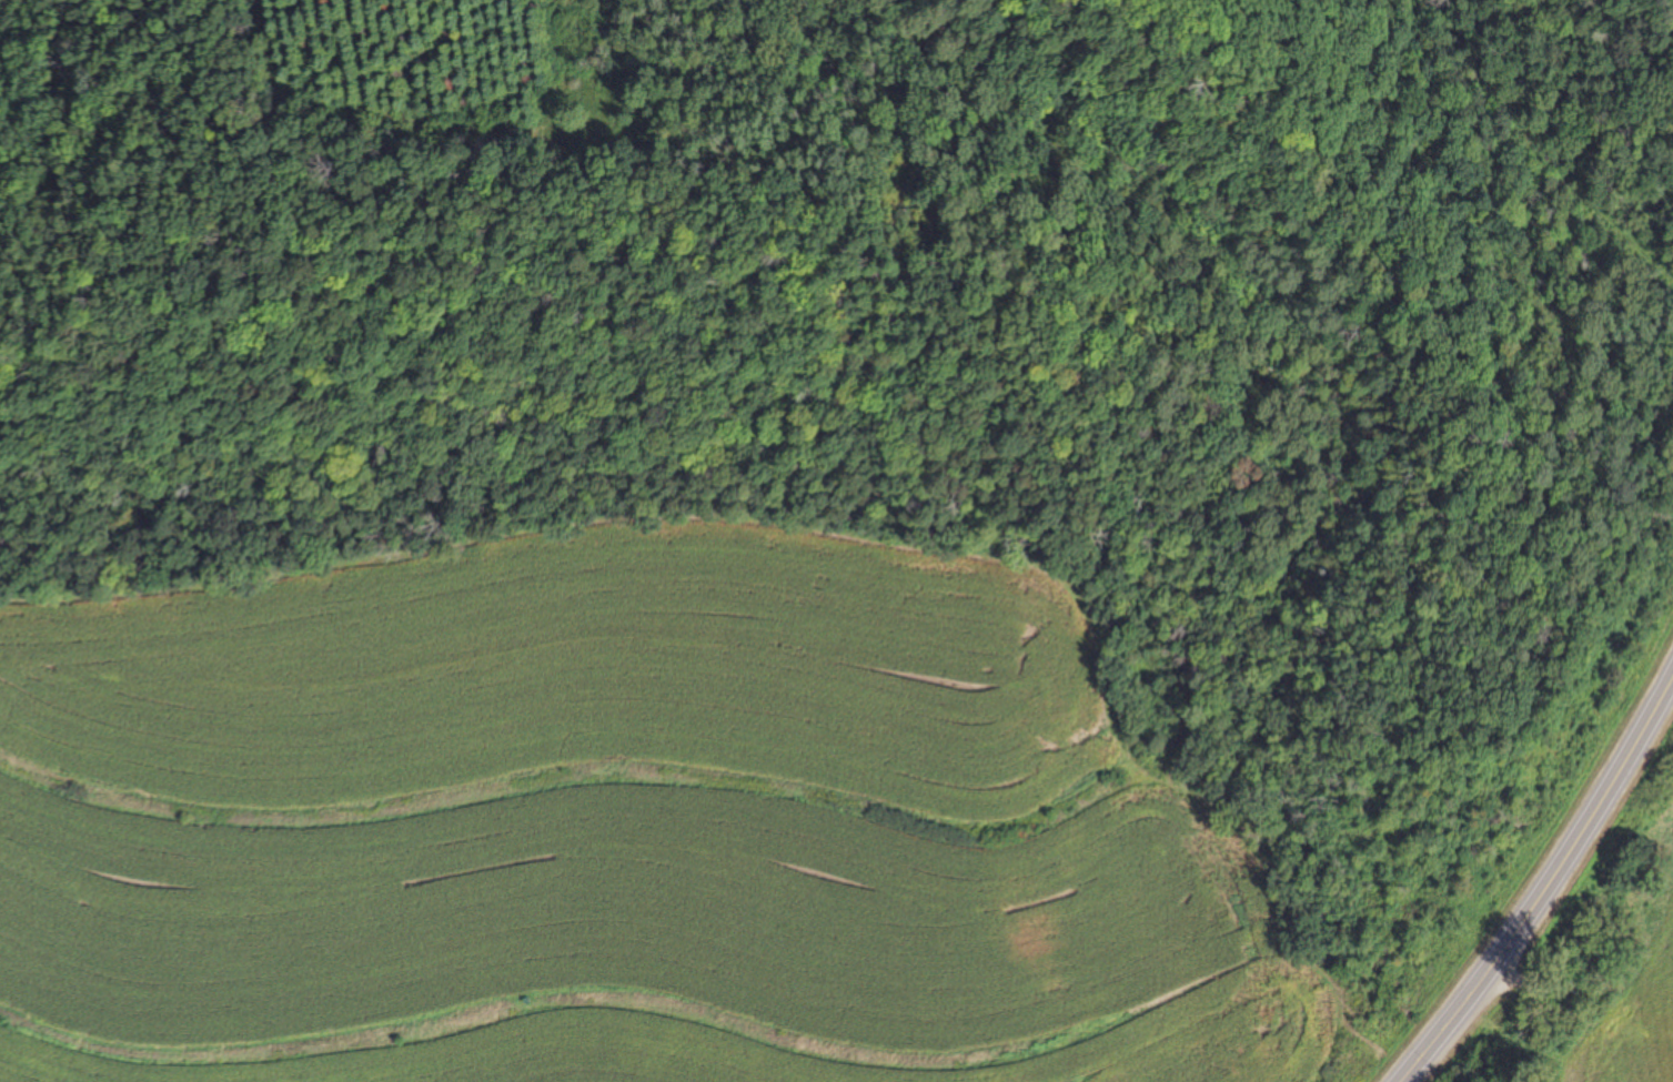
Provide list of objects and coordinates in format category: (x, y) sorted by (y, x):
road: (1552, 874)
road: (1405, 1074)

